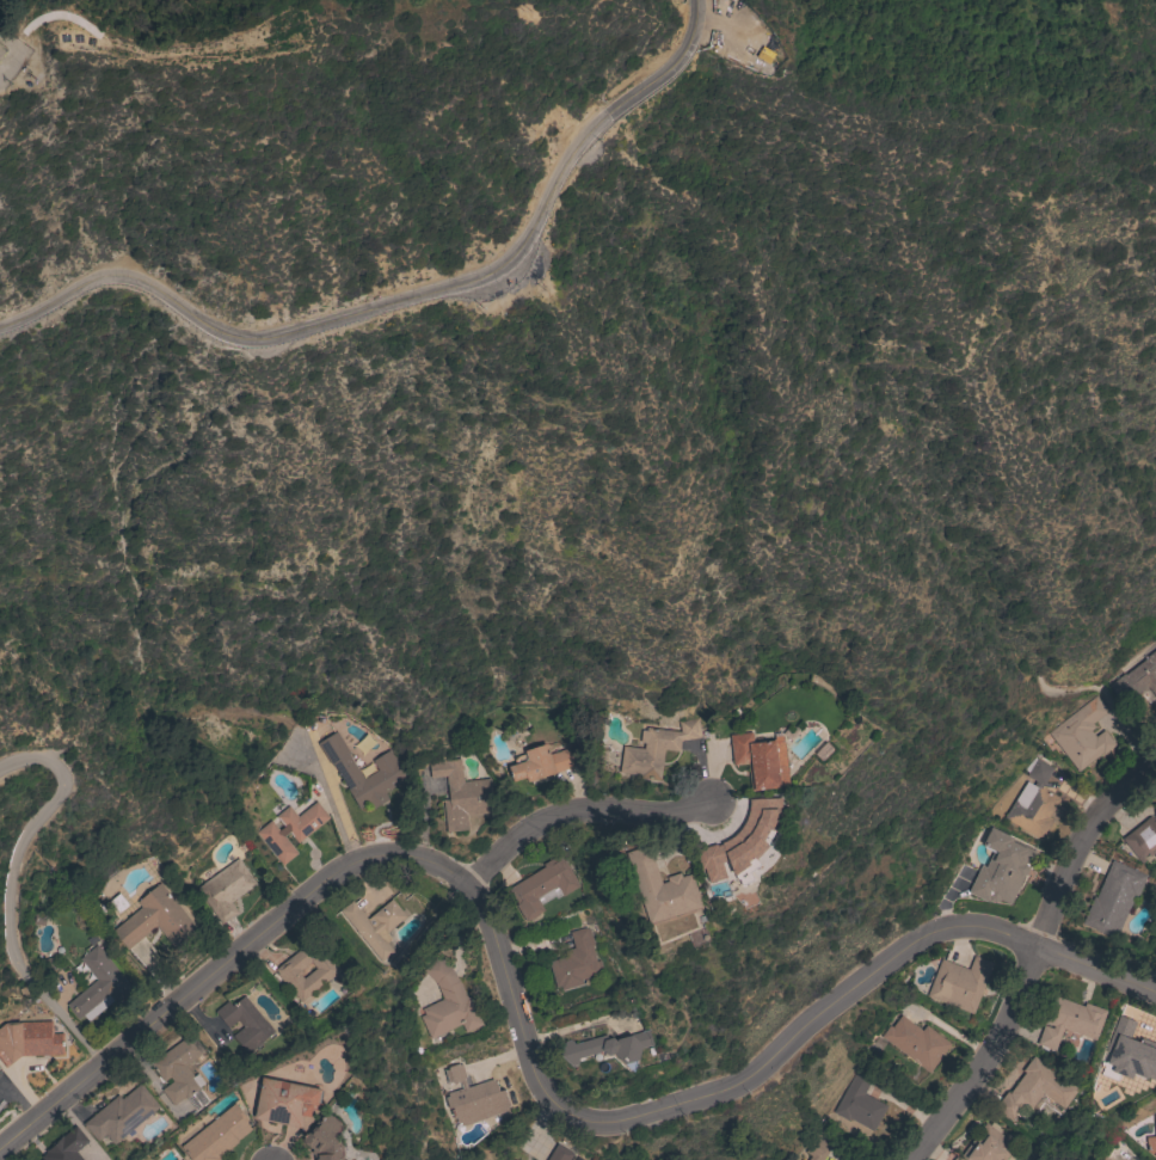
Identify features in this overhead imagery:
building: (5, 57)
road: (13, 74)
road: (410, 303)
building: (1136, 680)
building: (1081, 735)
building: (656, 749)
building: (760, 760)
building: (539, 763)
building: (387, 767)
building: (461, 794)
building: (1033, 799)
road: (574, 808)
building: (290, 829)
building: (1143, 837)
building: (744, 840)
building: (1001, 867)
building: (542, 886)
building: (660, 888)
building: (226, 889)
building: (1113, 898)
building: (155, 919)
building: (374, 926)
road: (1029, 958)
building: (576, 962)
building: (325, 971)
road: (1095, 975)
road: (505, 981)
building: (959, 983)
building: (99, 986)
building: (447, 1001)
building: (245, 1021)
building: (1070, 1021)
building: (29, 1041)
building: (915, 1043)
building: (603, 1049)
building: (1127, 1055)
building: (180, 1072)
building: (1034, 1088)
building: (473, 1097)
building: (284, 1101)
building: (859, 1104)
building: (121, 1113)
building: (217, 1135)
building: (325, 1138)
building: (1151, 1141)
building: (66, 1146)
building: (986, 1146)
building: (817, 1149)
building: (559, 1153)
building: (1105, 1159)

